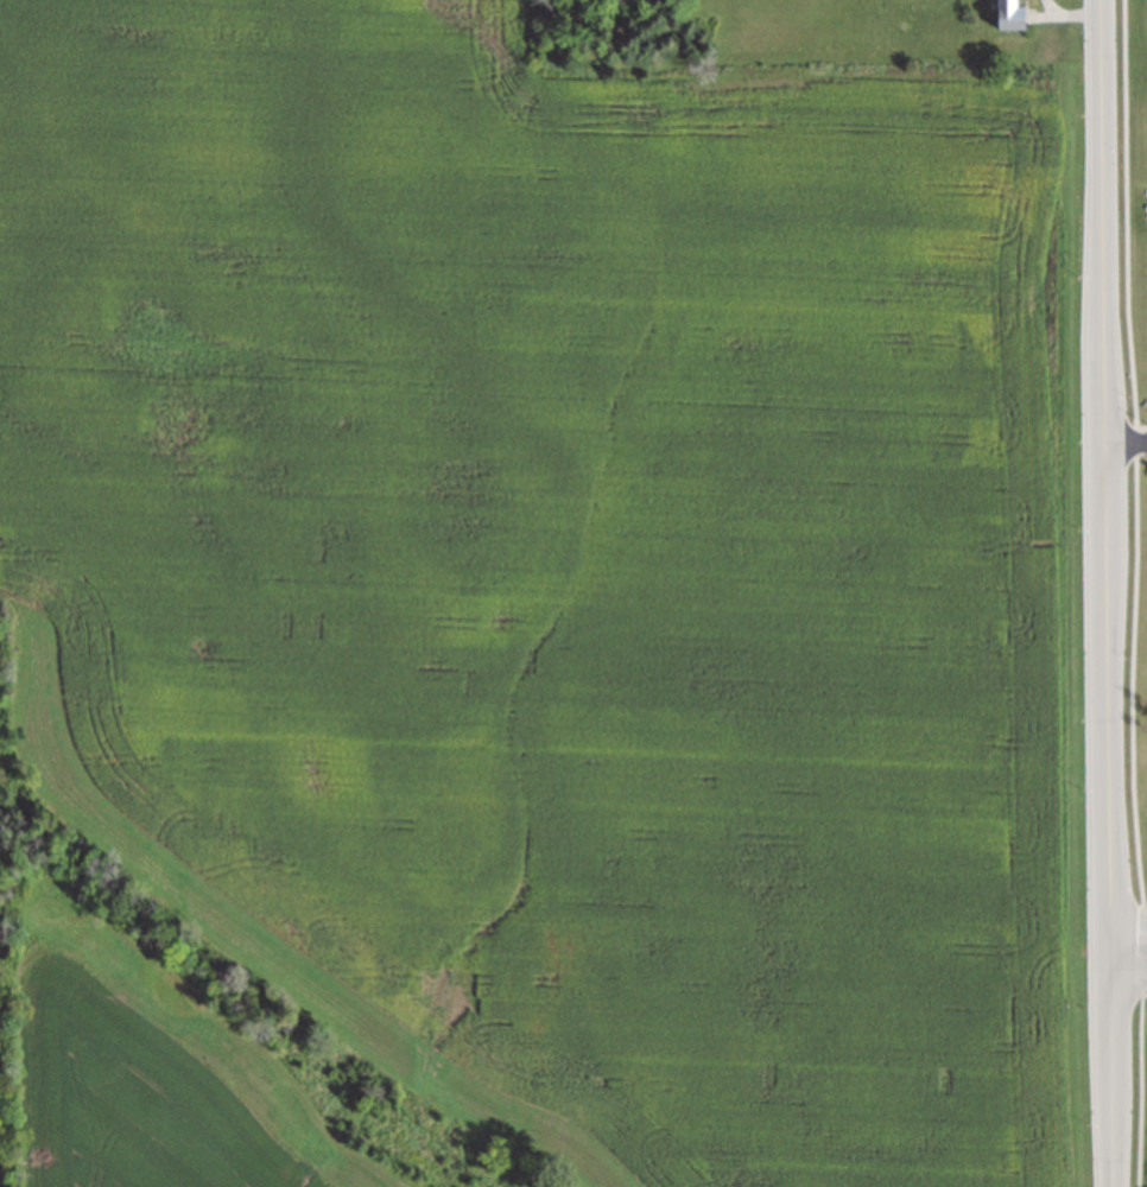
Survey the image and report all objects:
building: (1006, 14)
road: (1126, 445)
road: (1108, 593)
crop: (539, 607)
road: (1130, 934)
road: (1130, 973)

